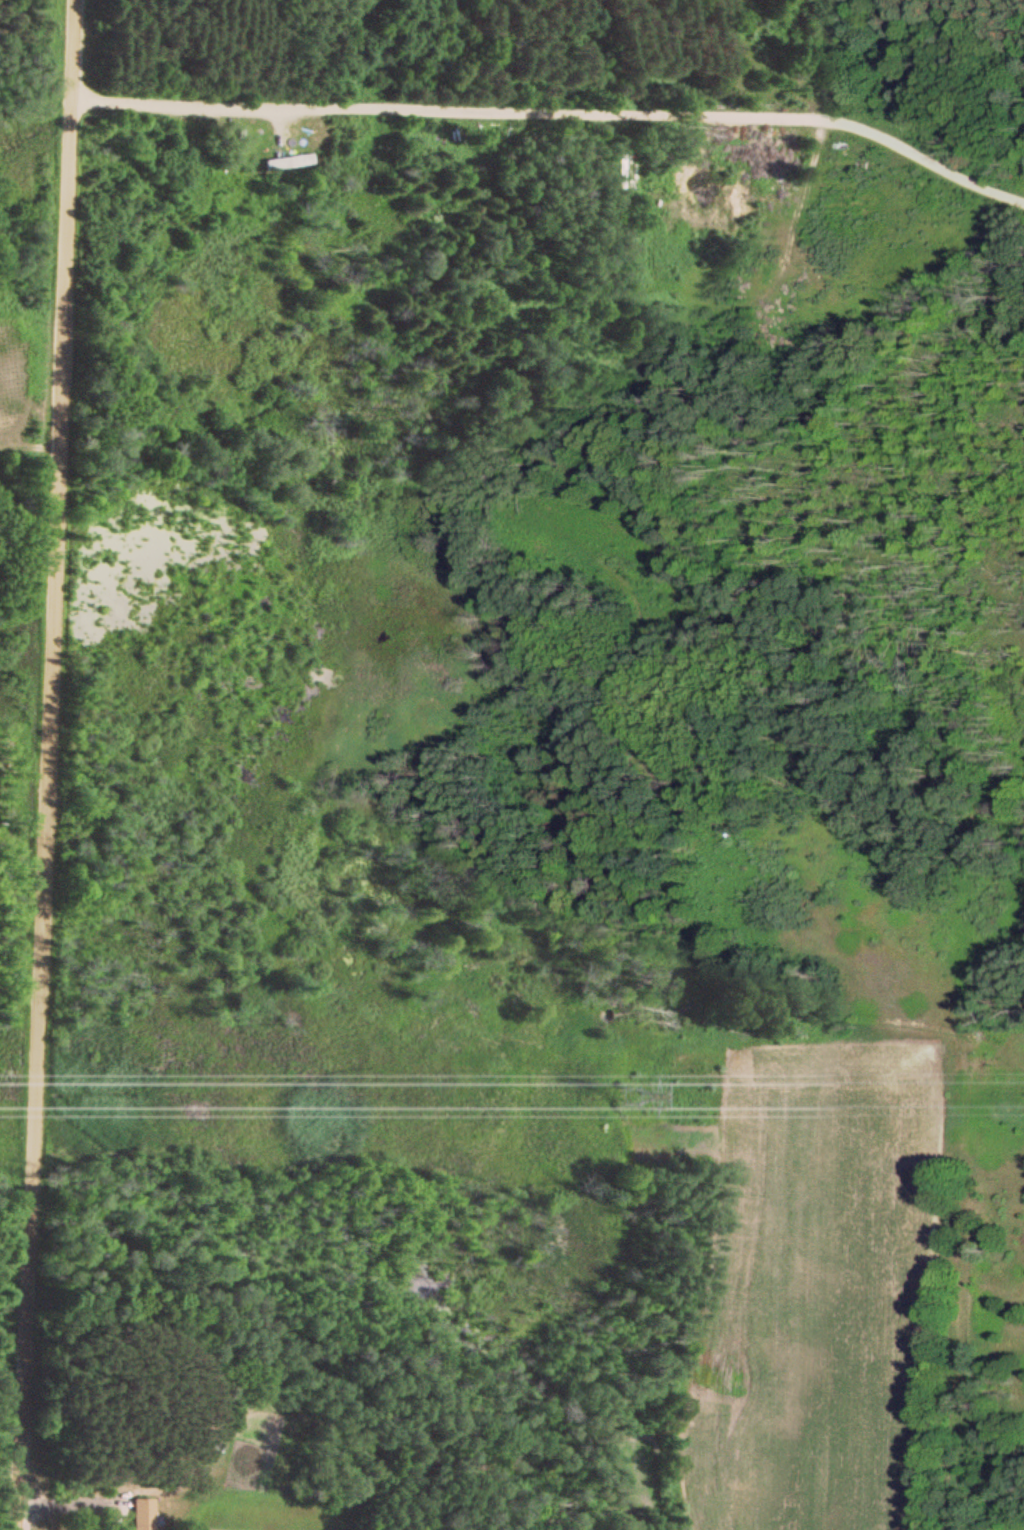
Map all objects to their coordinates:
road: (554, 109)
building: (257, 130)
building: (288, 163)
road: (42, 764)
power tower: (615, 1090)
building: (140, 1515)

